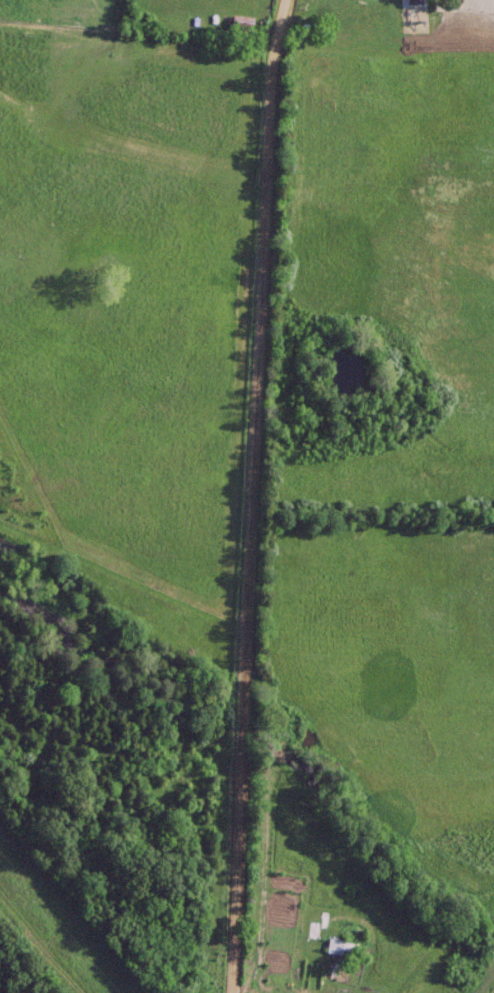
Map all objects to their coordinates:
building: (485, 8)
building: (240, 26)
road: (247, 495)

